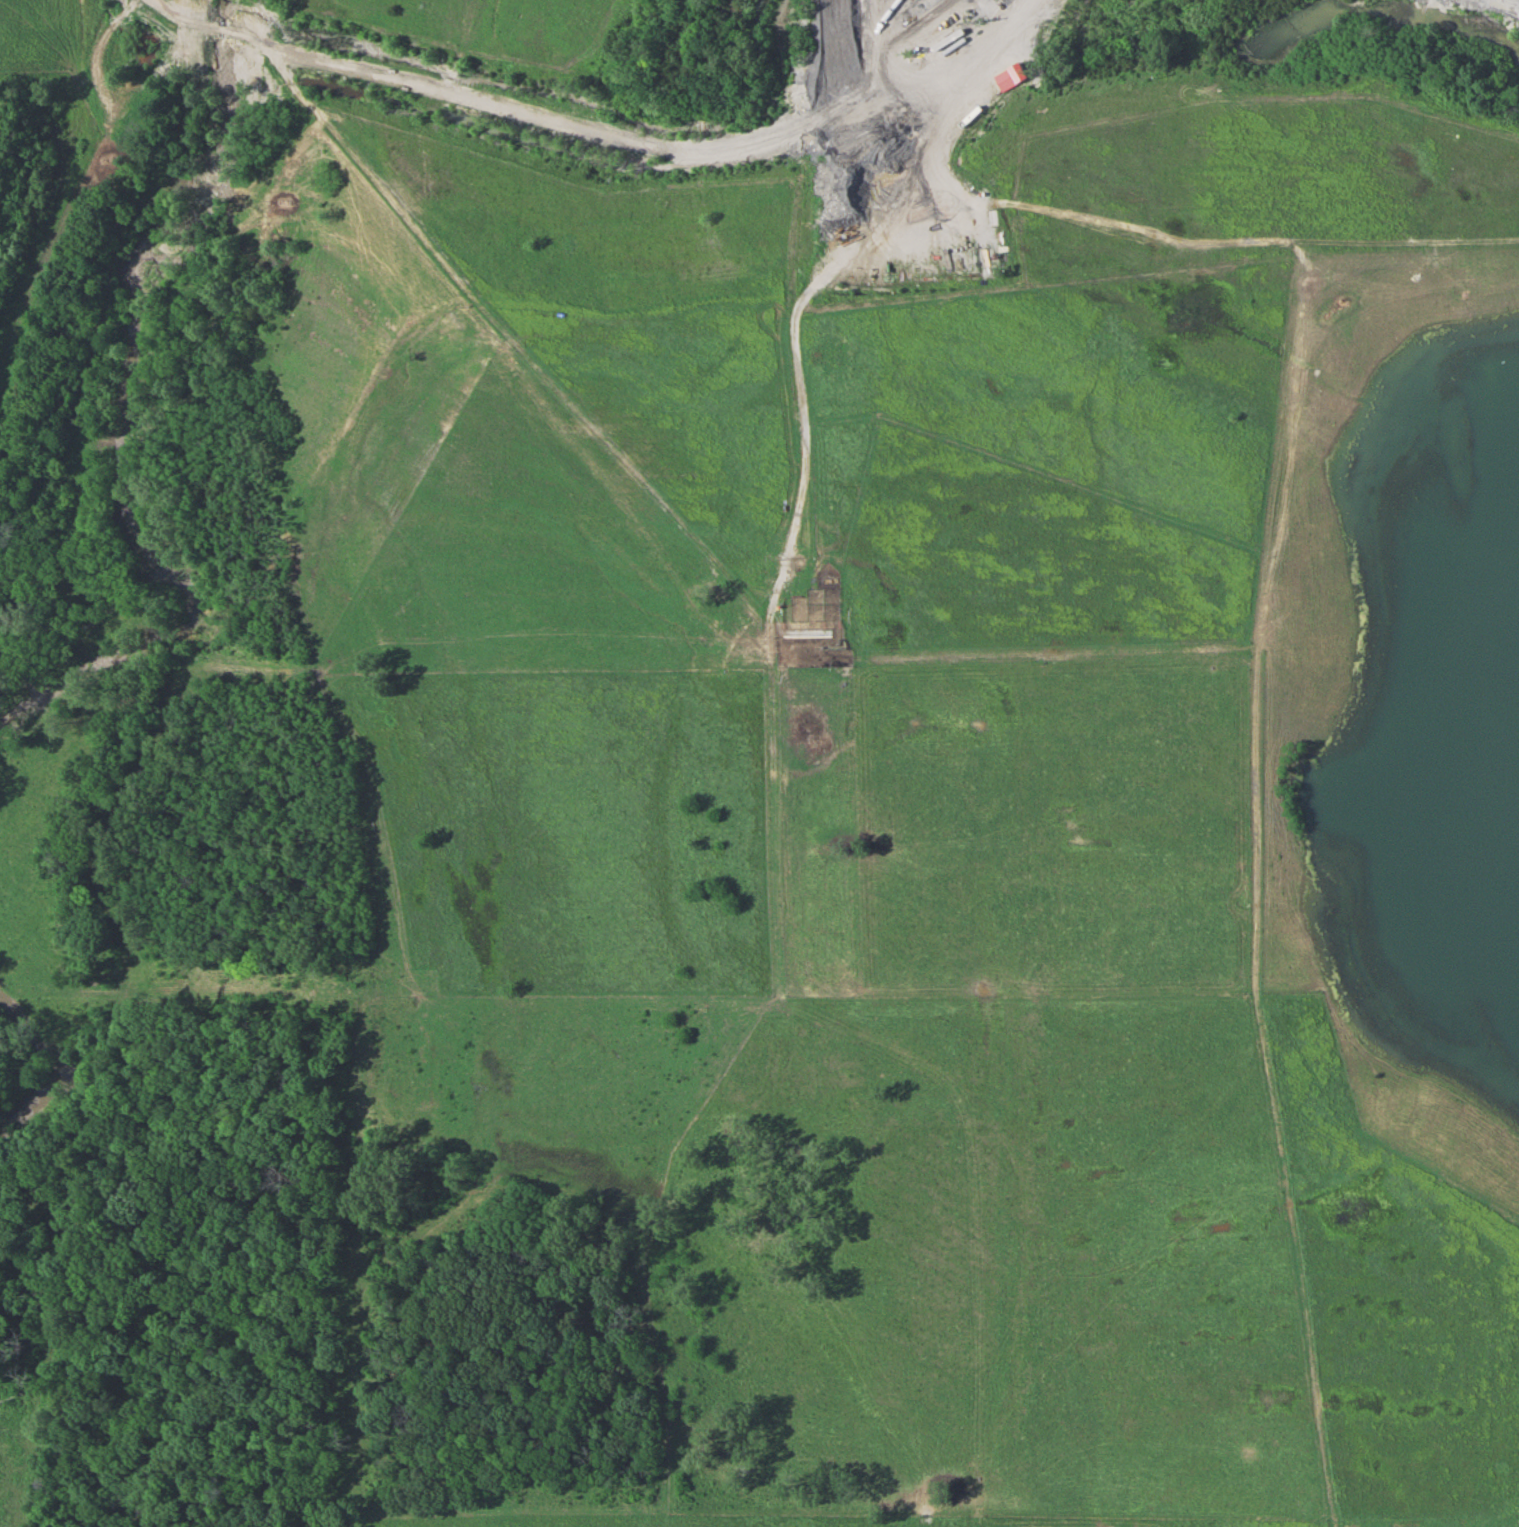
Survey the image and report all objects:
building: (1012, 78)
road: (602, 138)
road: (1445, 1010)

